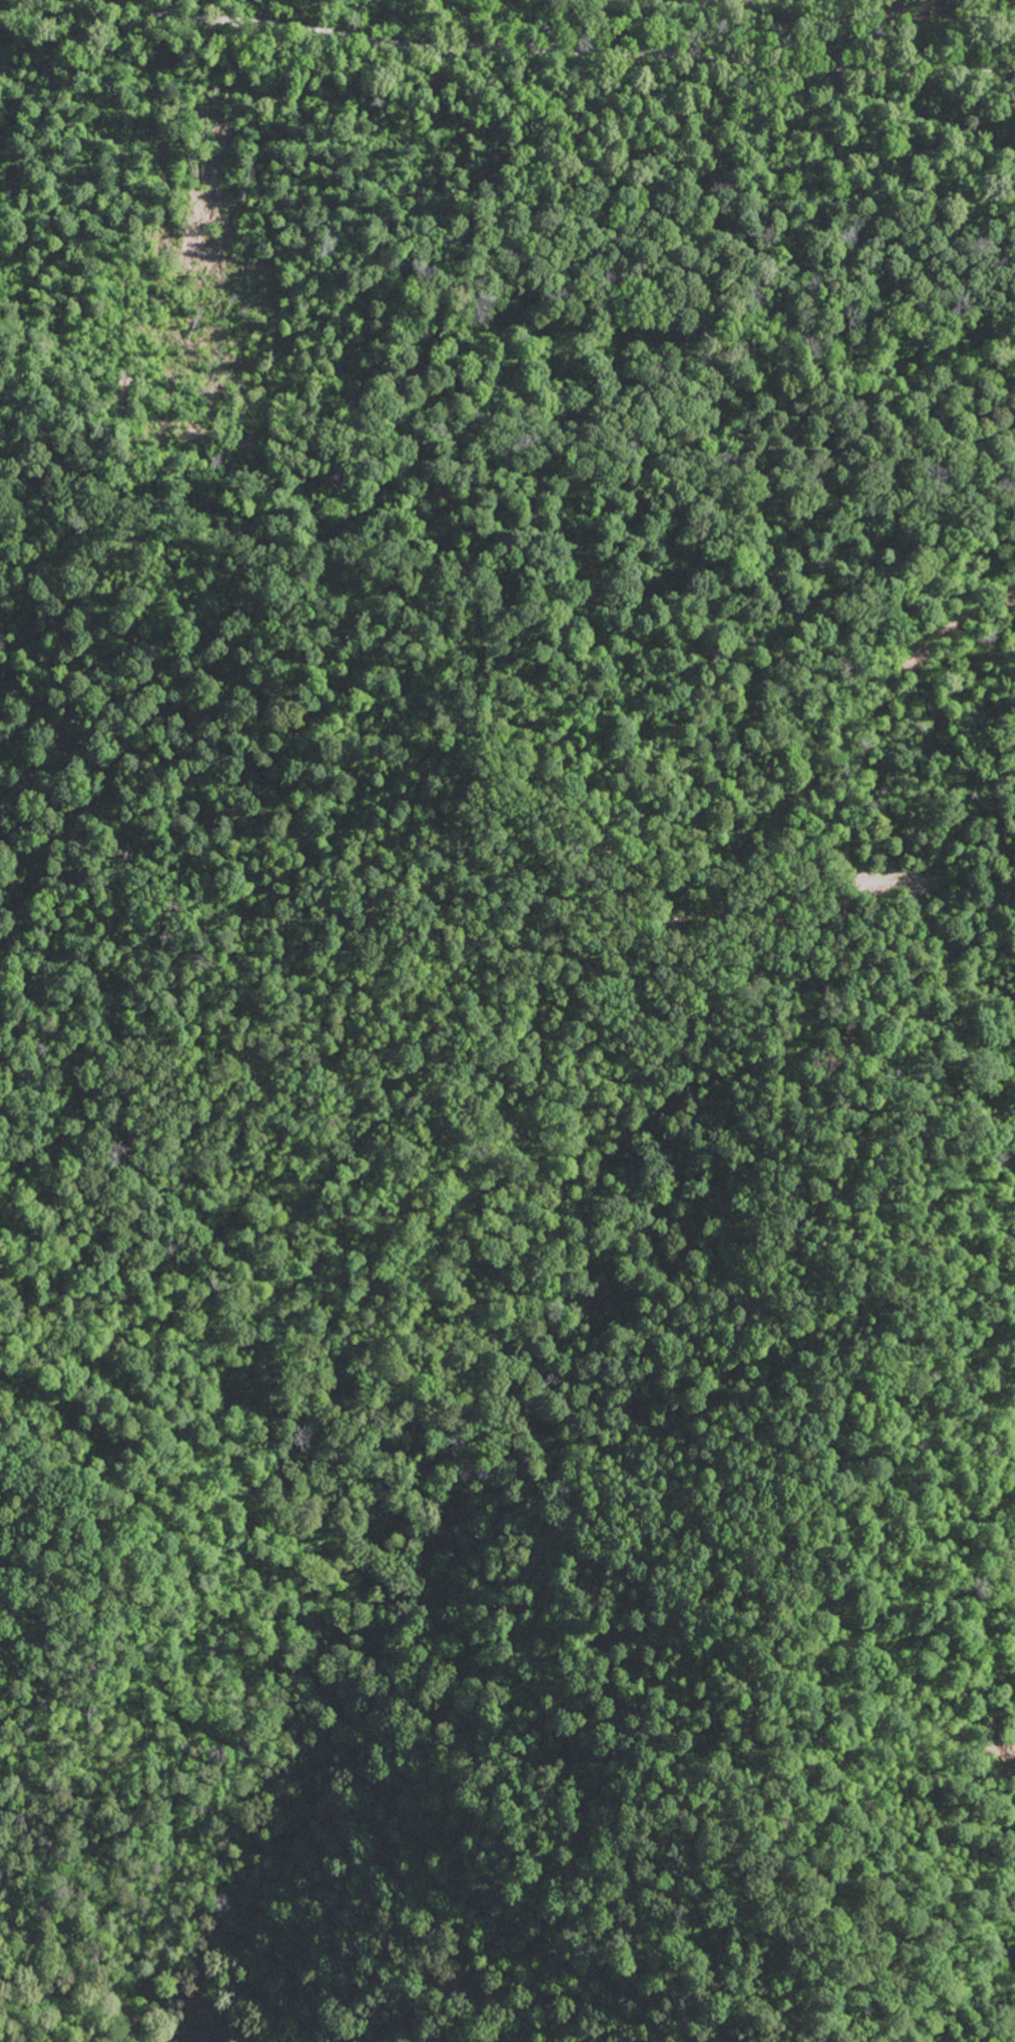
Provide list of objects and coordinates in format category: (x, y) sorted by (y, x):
road: (546, 51)
road: (503, 890)

